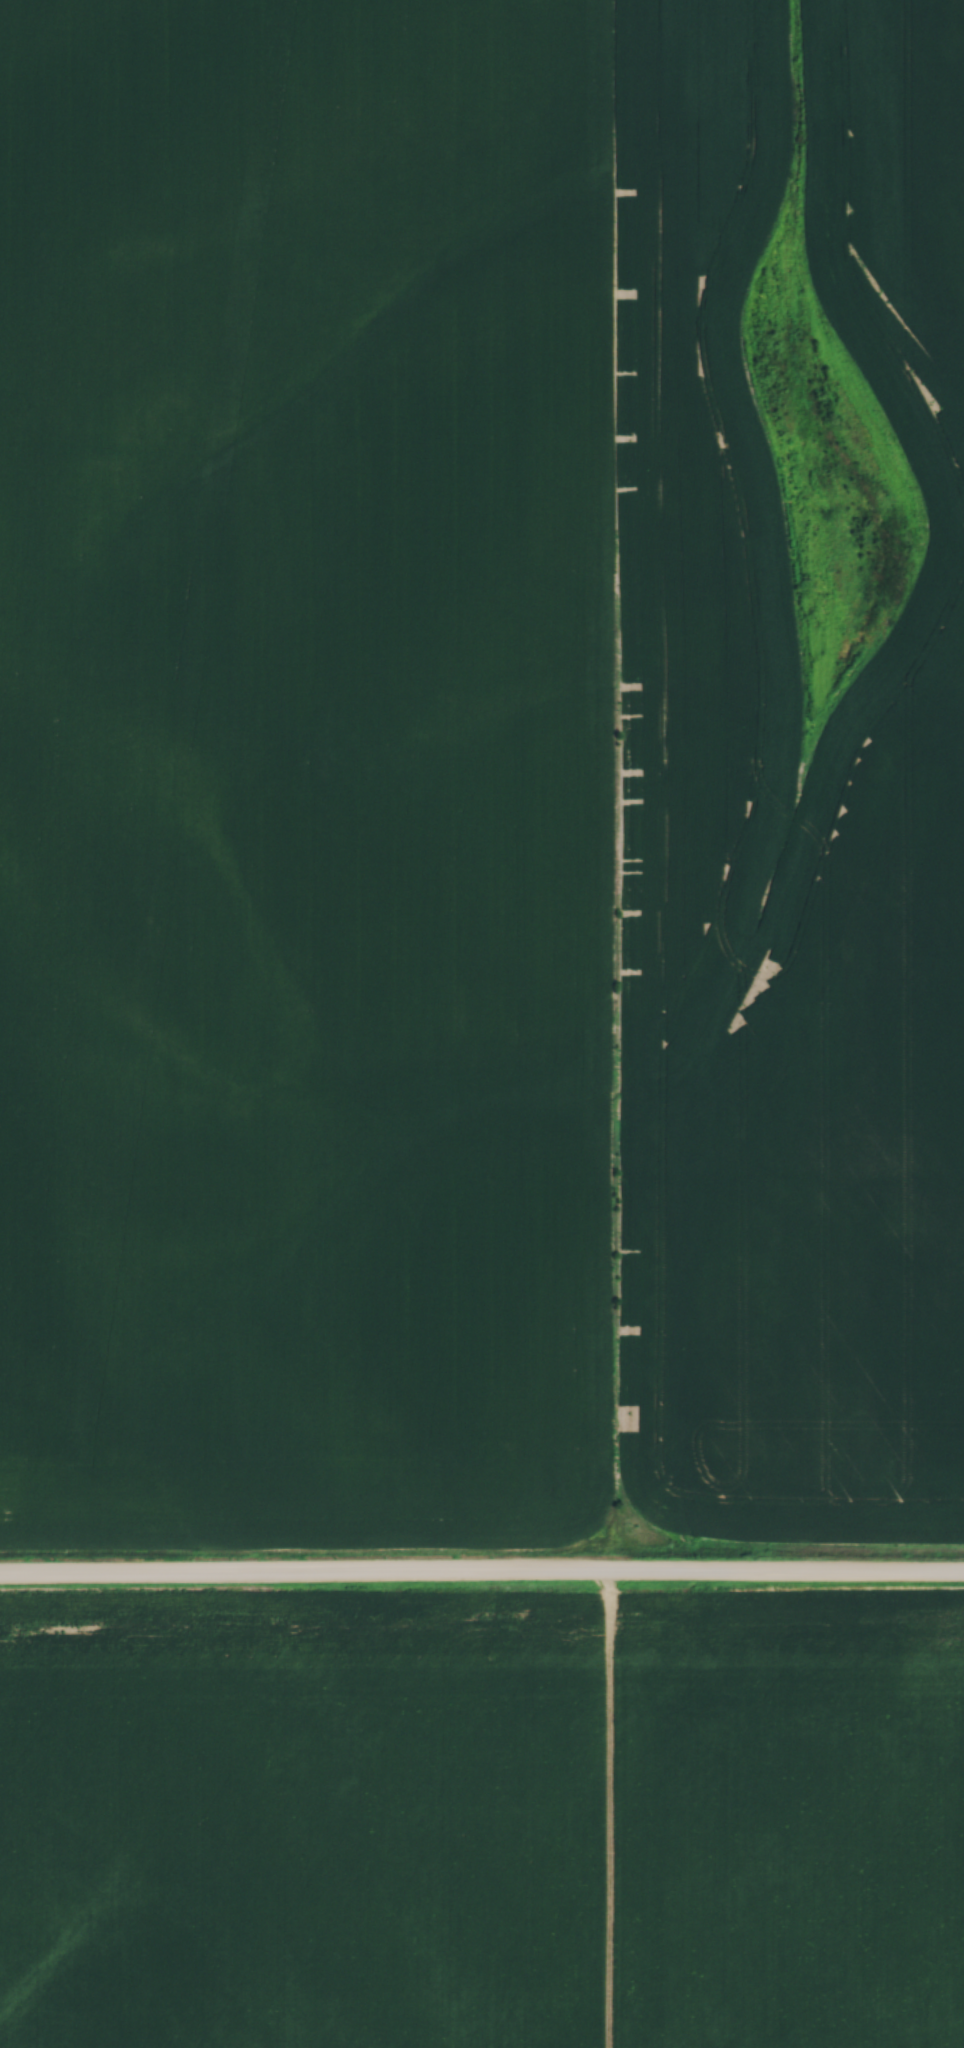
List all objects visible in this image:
road: (482, 1577)

